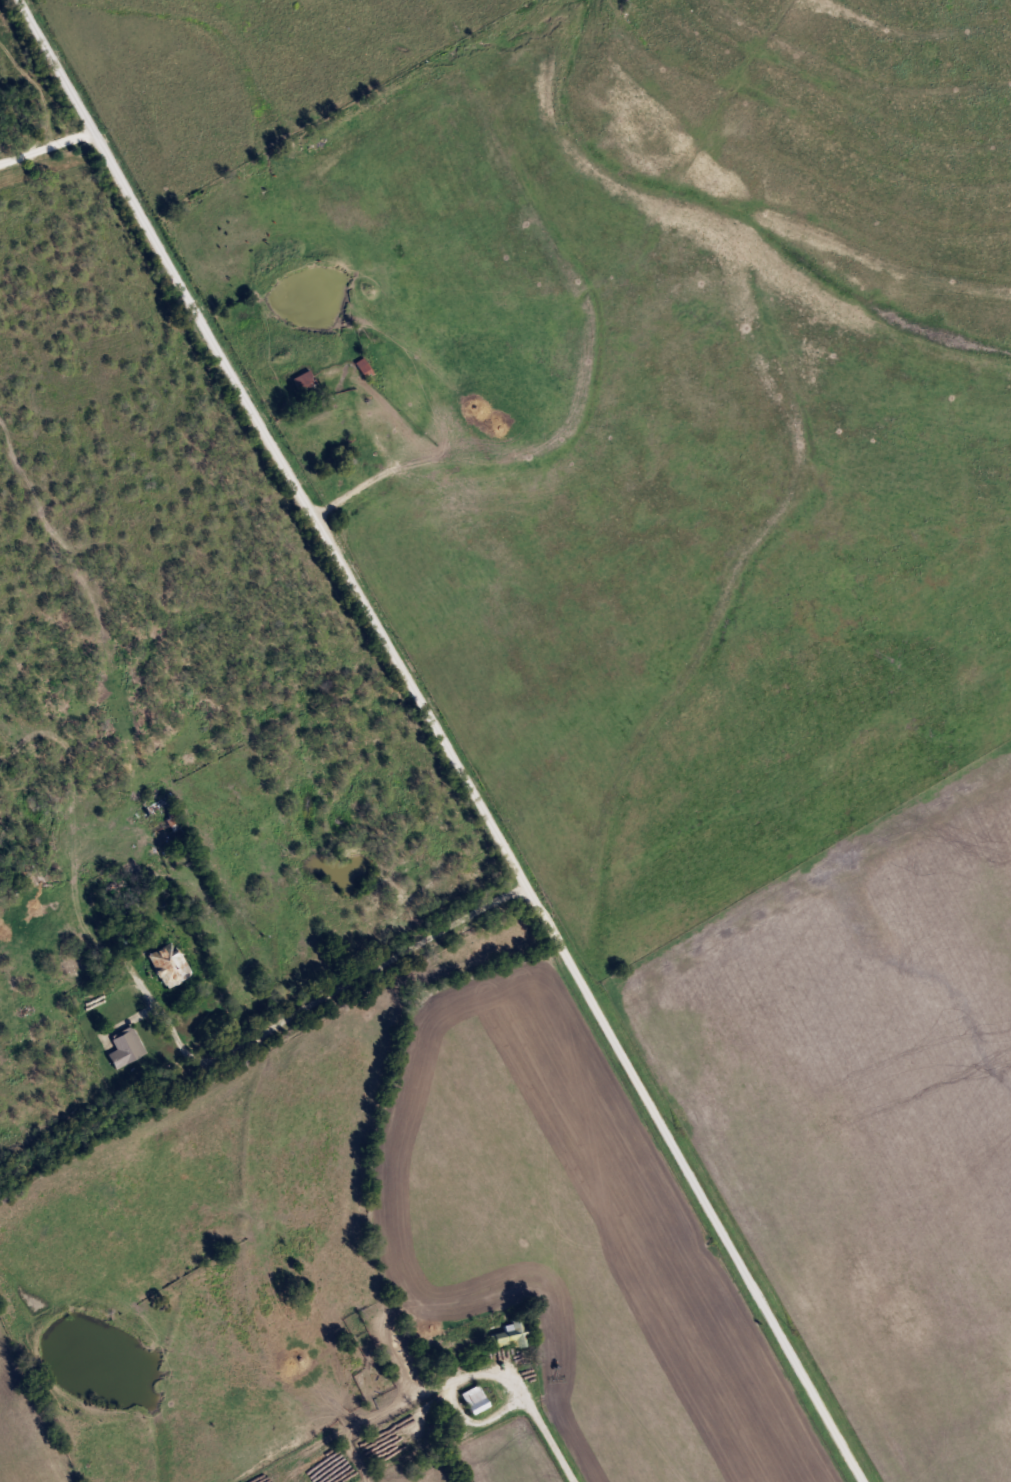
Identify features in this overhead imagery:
road: (48, 146)
building: (305, 380)
road: (272, 444)
road: (347, 496)
building: (175, 821)
road: (312, 1000)
building: (128, 1048)
road: (695, 1184)
building: (510, 1333)
building: (477, 1399)
road: (542, 1420)

